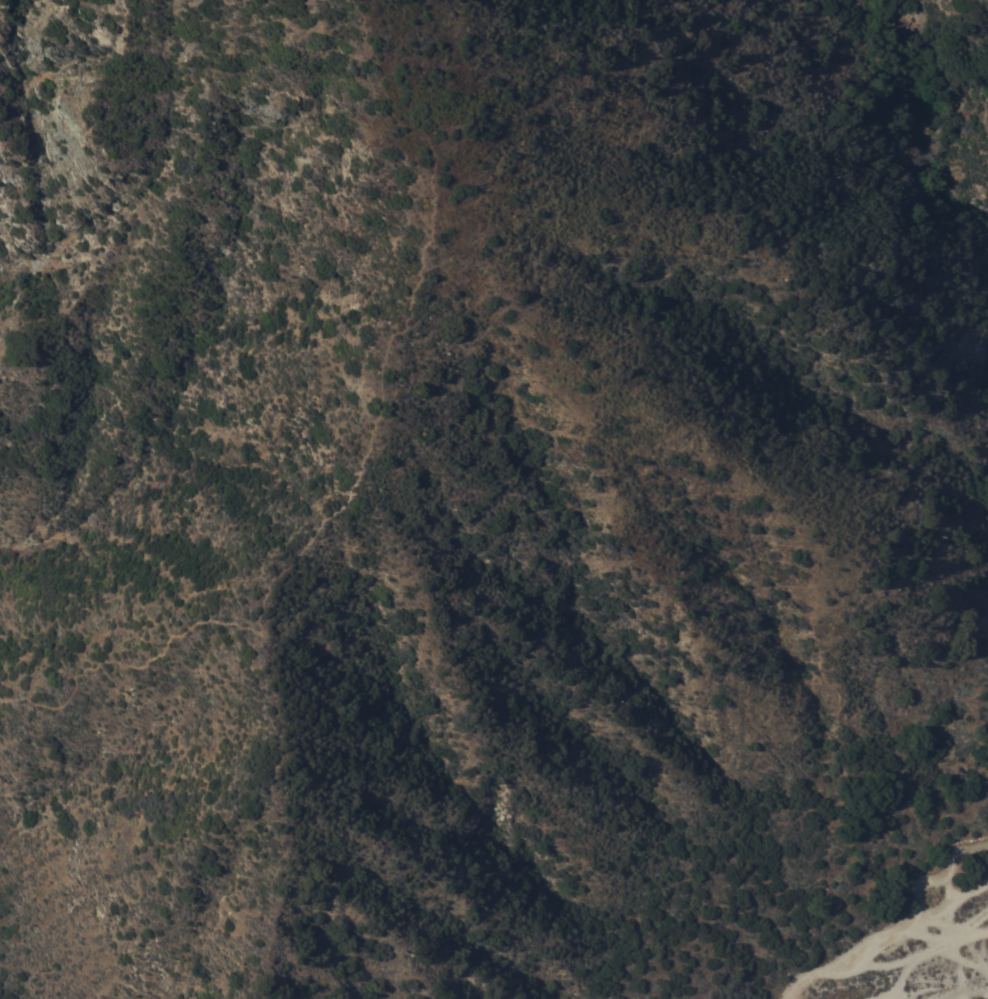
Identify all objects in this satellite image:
road: (358, 466)
road: (885, 957)

